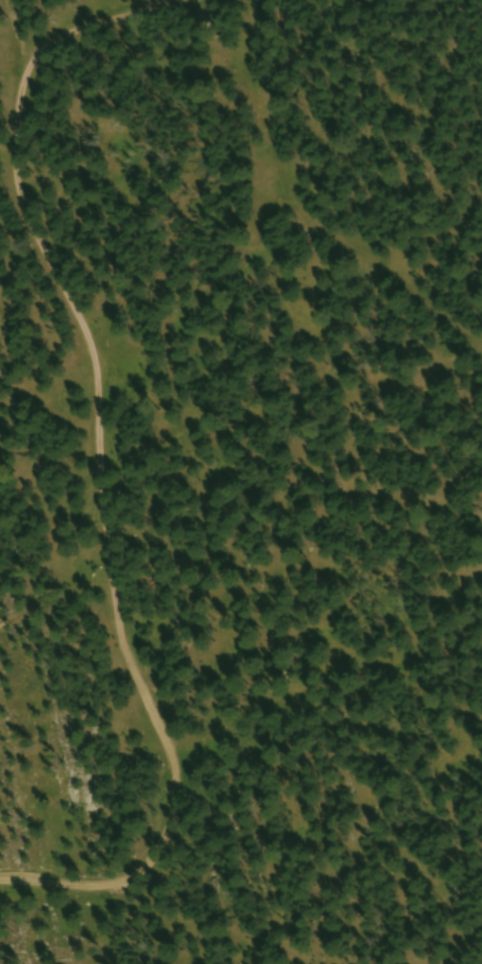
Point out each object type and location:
road: (91, 463)

